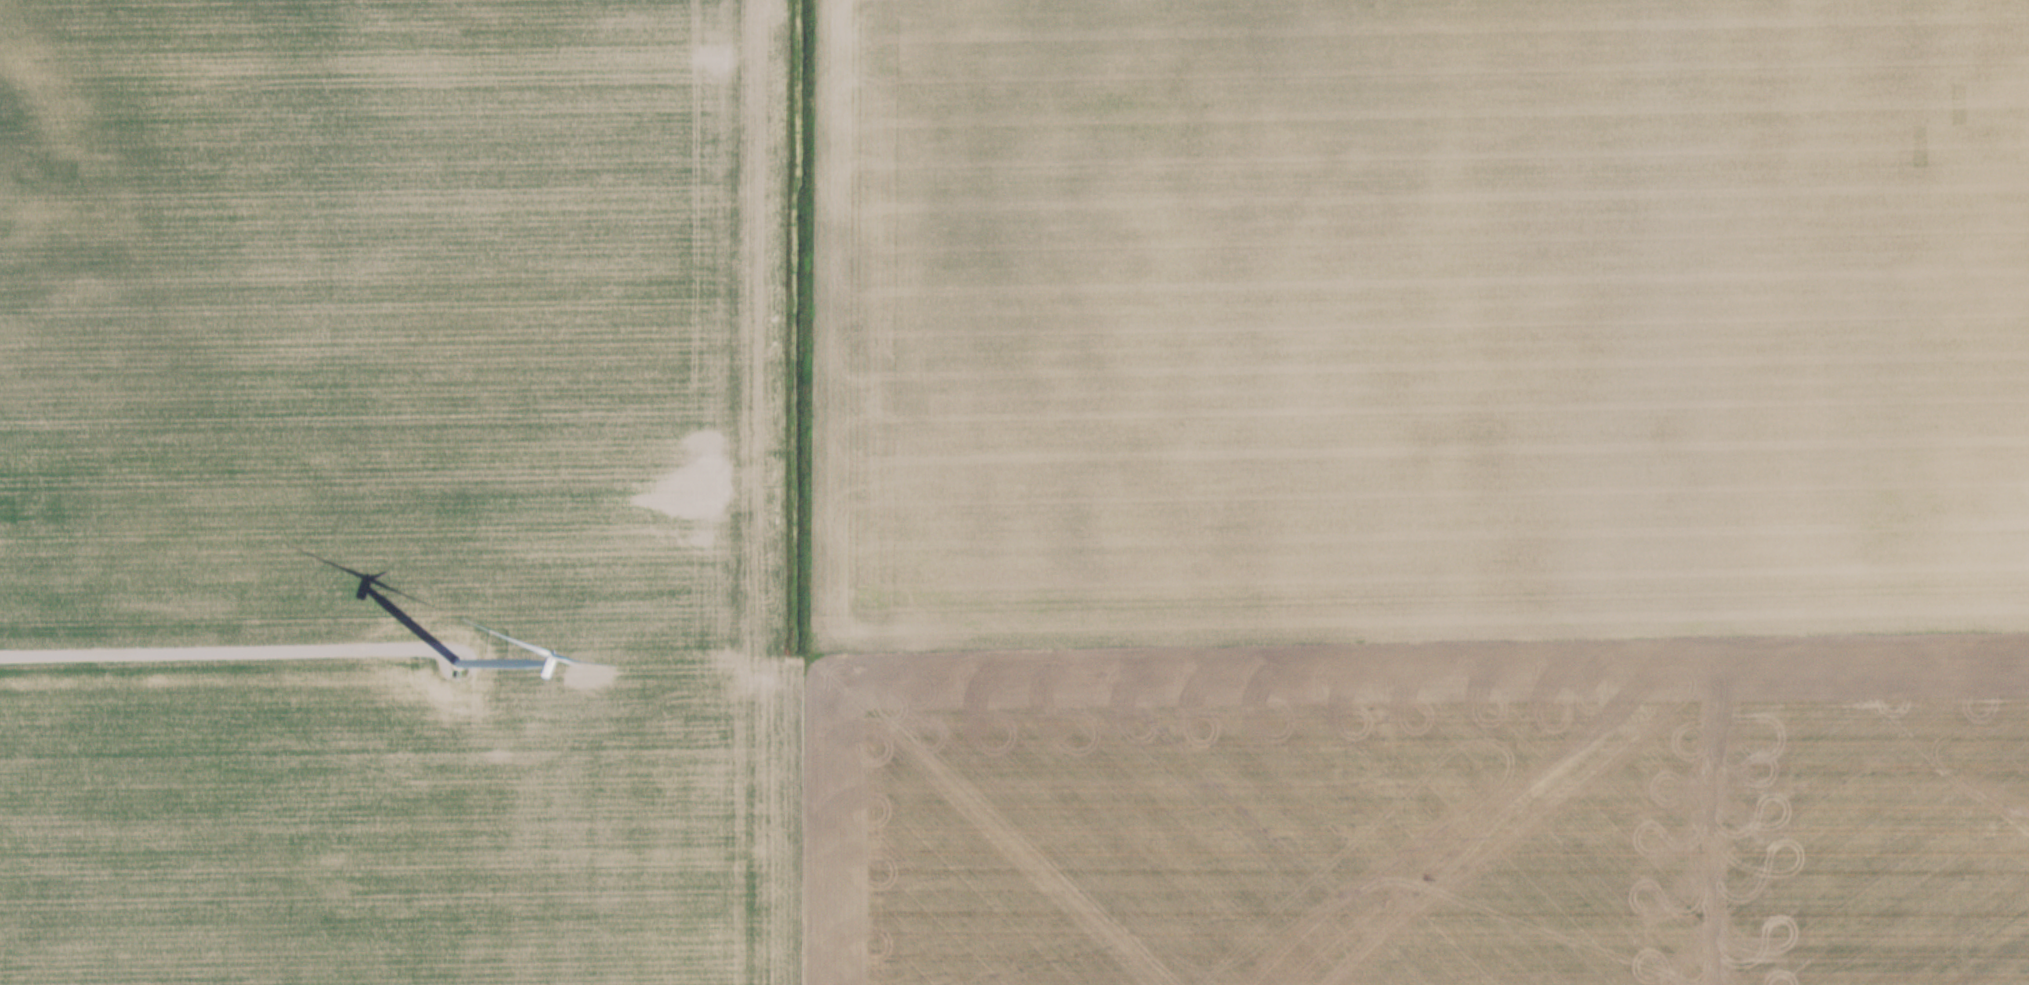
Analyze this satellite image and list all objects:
road: (168, 653)
wind turbine: (404, 656)

